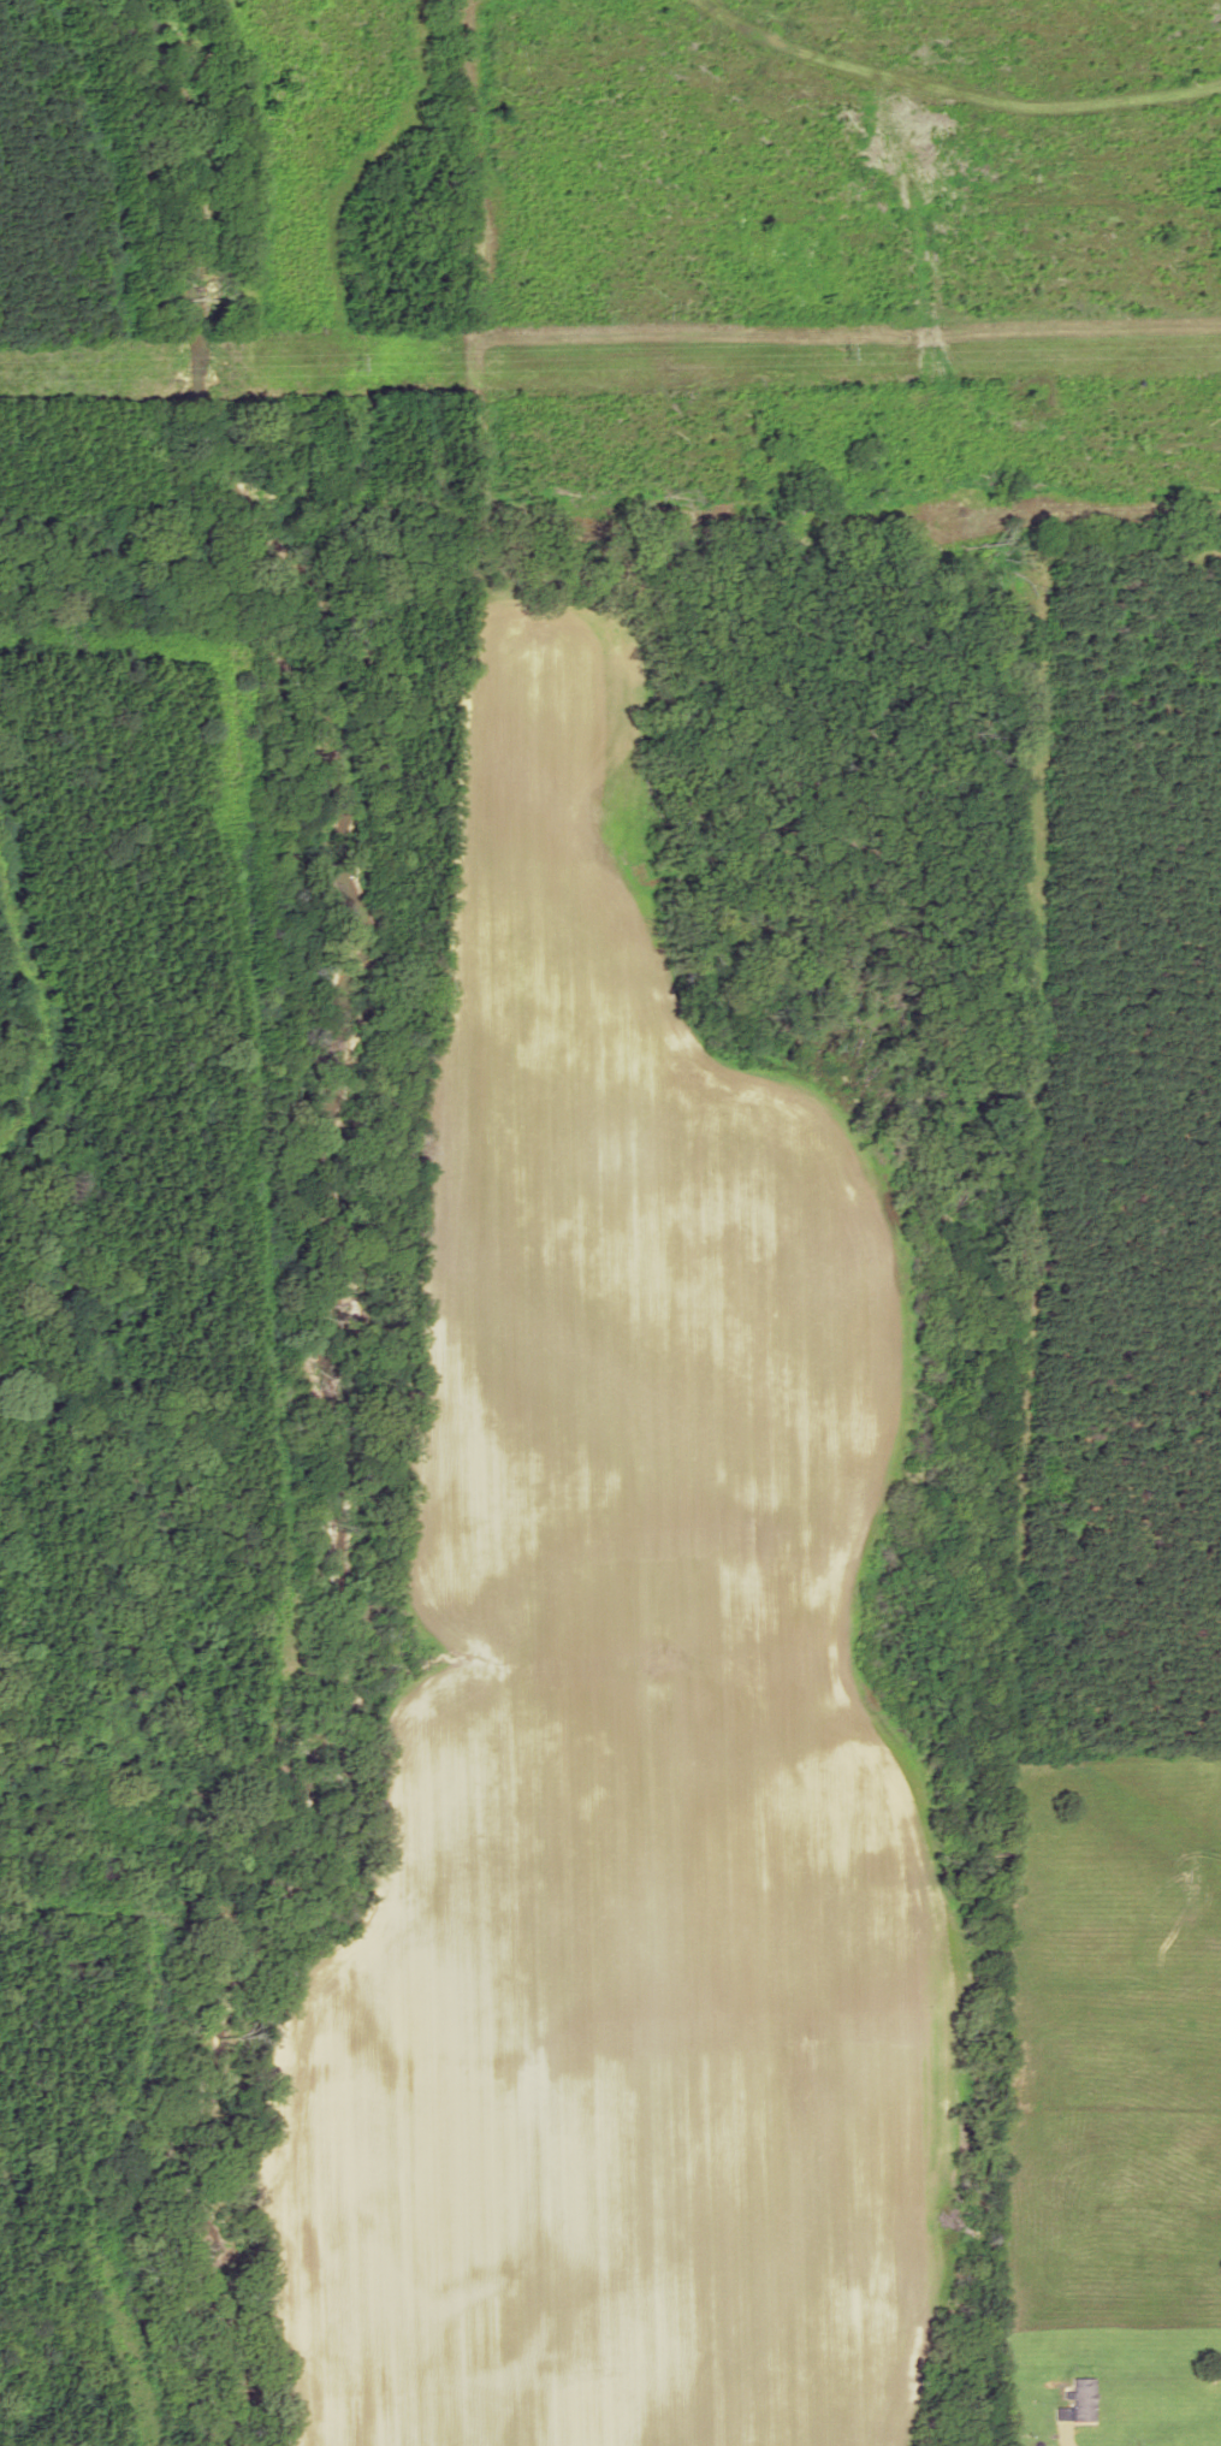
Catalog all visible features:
building: (1075, 2400)

